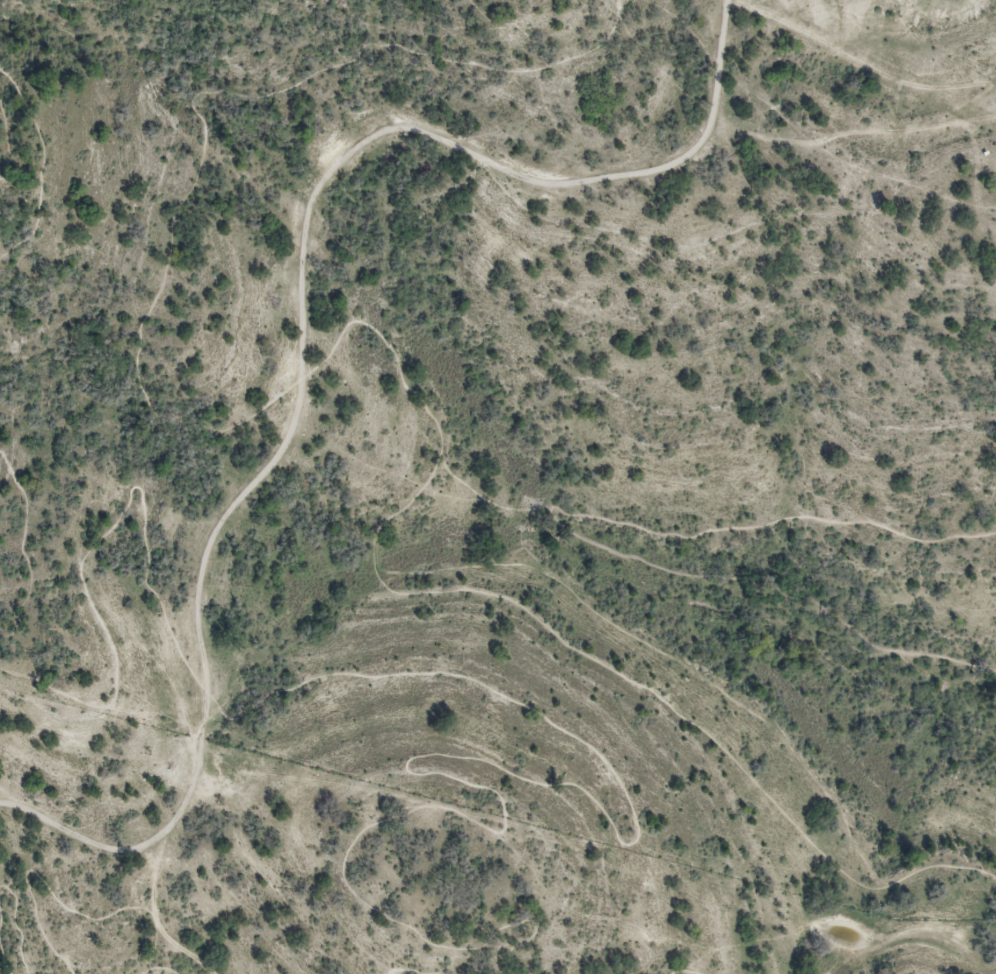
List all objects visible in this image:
road: (854, 58)
road: (199, 108)
road: (856, 136)
road: (5, 153)
road: (40, 166)
road: (302, 330)
road: (570, 531)
road: (97, 539)
road: (20, 541)
road: (556, 582)
road: (520, 779)
road: (40, 878)
road: (1, 915)
road: (15, 926)
road: (179, 946)
road: (1, 960)
road: (158, 968)
road: (412, 971)
road: (681, 972)

